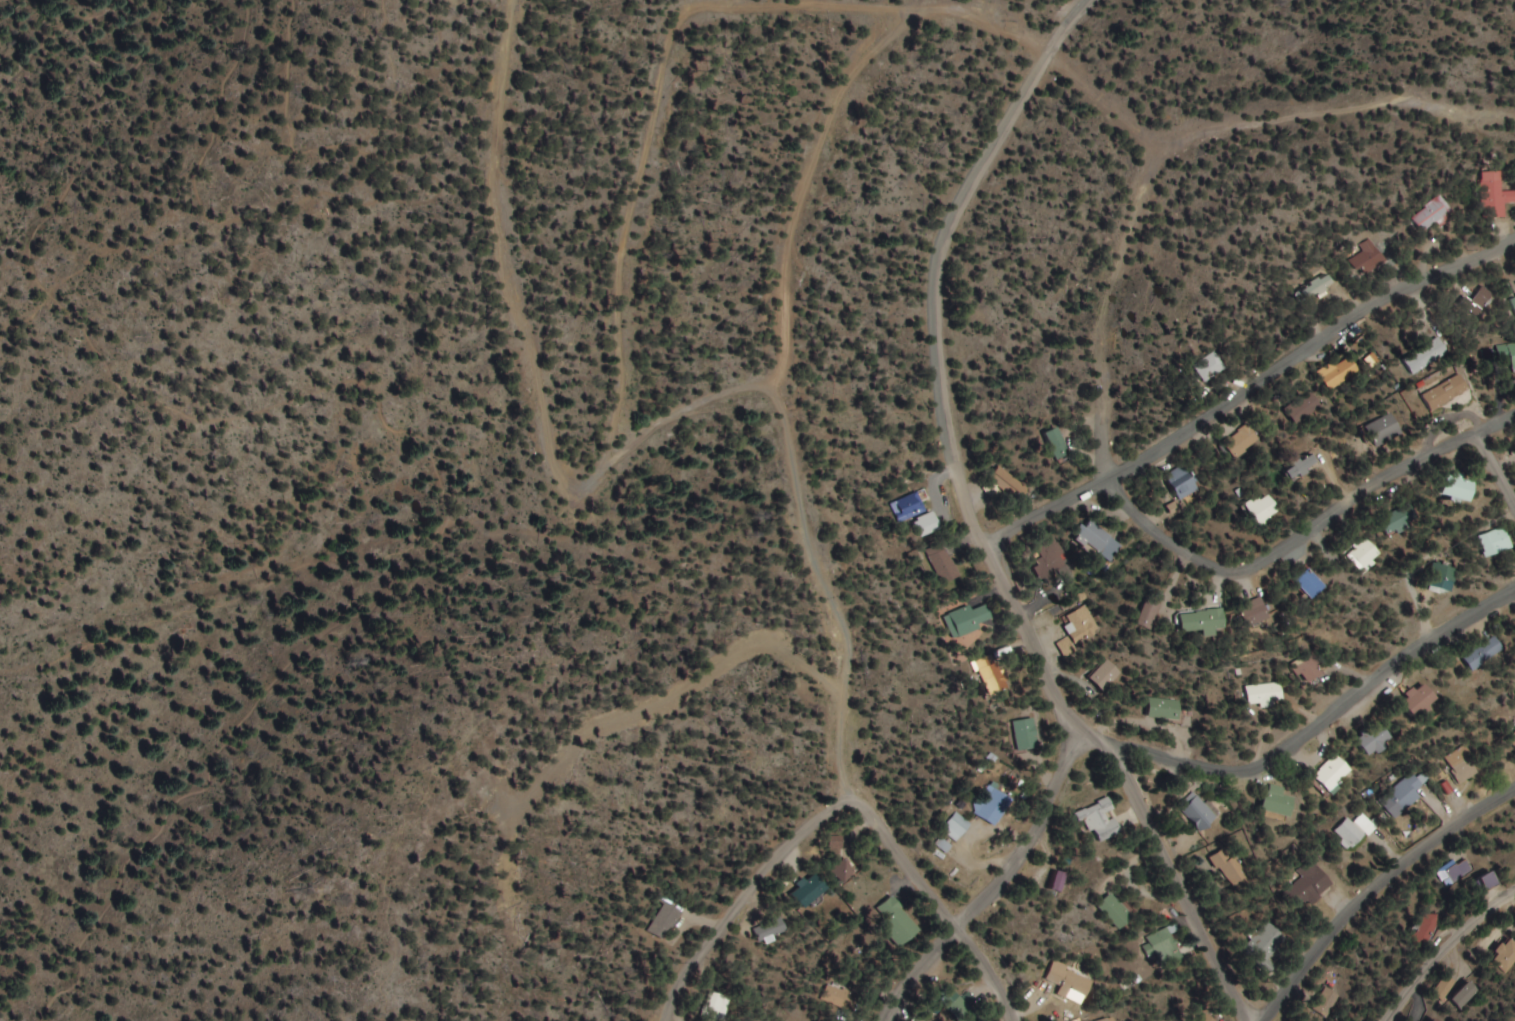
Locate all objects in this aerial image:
road: (894, 9)
building: (1496, 195)
building: (1435, 216)
building: (1371, 260)
road: (1111, 305)
building: (1427, 356)
building: (1511, 357)
building: (1211, 366)
road: (534, 369)
building: (1342, 371)
road: (1248, 390)
building: (1447, 392)
road: (783, 394)
building: (1304, 408)
building: (1384, 430)
building: (1241, 441)
building: (1059, 444)
building: (1301, 467)
road: (1495, 471)
building: (1182, 482)
building: (1013, 486)
building: (1459, 487)
building: (912, 507)
building: (1263, 509)
building: (1400, 520)
road: (976, 523)
building: (928, 526)
road: (1307, 537)
building: (1100, 542)
building: (1496, 543)
building: (1366, 555)
road: (326, 558)
building: (1051, 559)
building: (946, 567)
building: (1442, 580)
building: (1312, 585)
building: (1256, 613)
building: (967, 620)
building: (1205, 623)
building: (1080, 624)
building: (1065, 646)
building: (1484, 654)
road: (57, 655)
building: (1309, 671)
building: (1104, 674)
building: (1264, 695)
building: (1419, 701)
building: (1163, 709)
building: (1024, 734)
building: (1512, 740)
building: (1375, 741)
road: (1147, 754)
building: (1461, 765)
building: (1333, 775)
building: (1407, 792)
building: (1278, 802)
building: (993, 804)
building: (1196, 812)
building: (1100, 820)
building: (957, 826)
building: (1355, 831)
building: (837, 842)
building: (945, 844)
building: (1229, 868)
building: (1457, 870)
building: (844, 871)
building: (1058, 880)
building: (1486, 880)
building: (1307, 887)
building: (811, 889)
road: (1377, 889)
road: (748, 897)
road: (940, 904)
building: (1116, 910)
building: (665, 920)
building: (896, 920)
building: (772, 929)
building: (1422, 931)
building: (1265, 944)
building: (1166, 945)
road: (1444, 950)
building: (1505, 953)
building: (1071, 981)
building: (1443, 987)
building: (1464, 995)
building: (841, 997)
building: (1325, 1002)
building: (717, 1005)
building: (960, 1006)
building: (1436, 1020)

